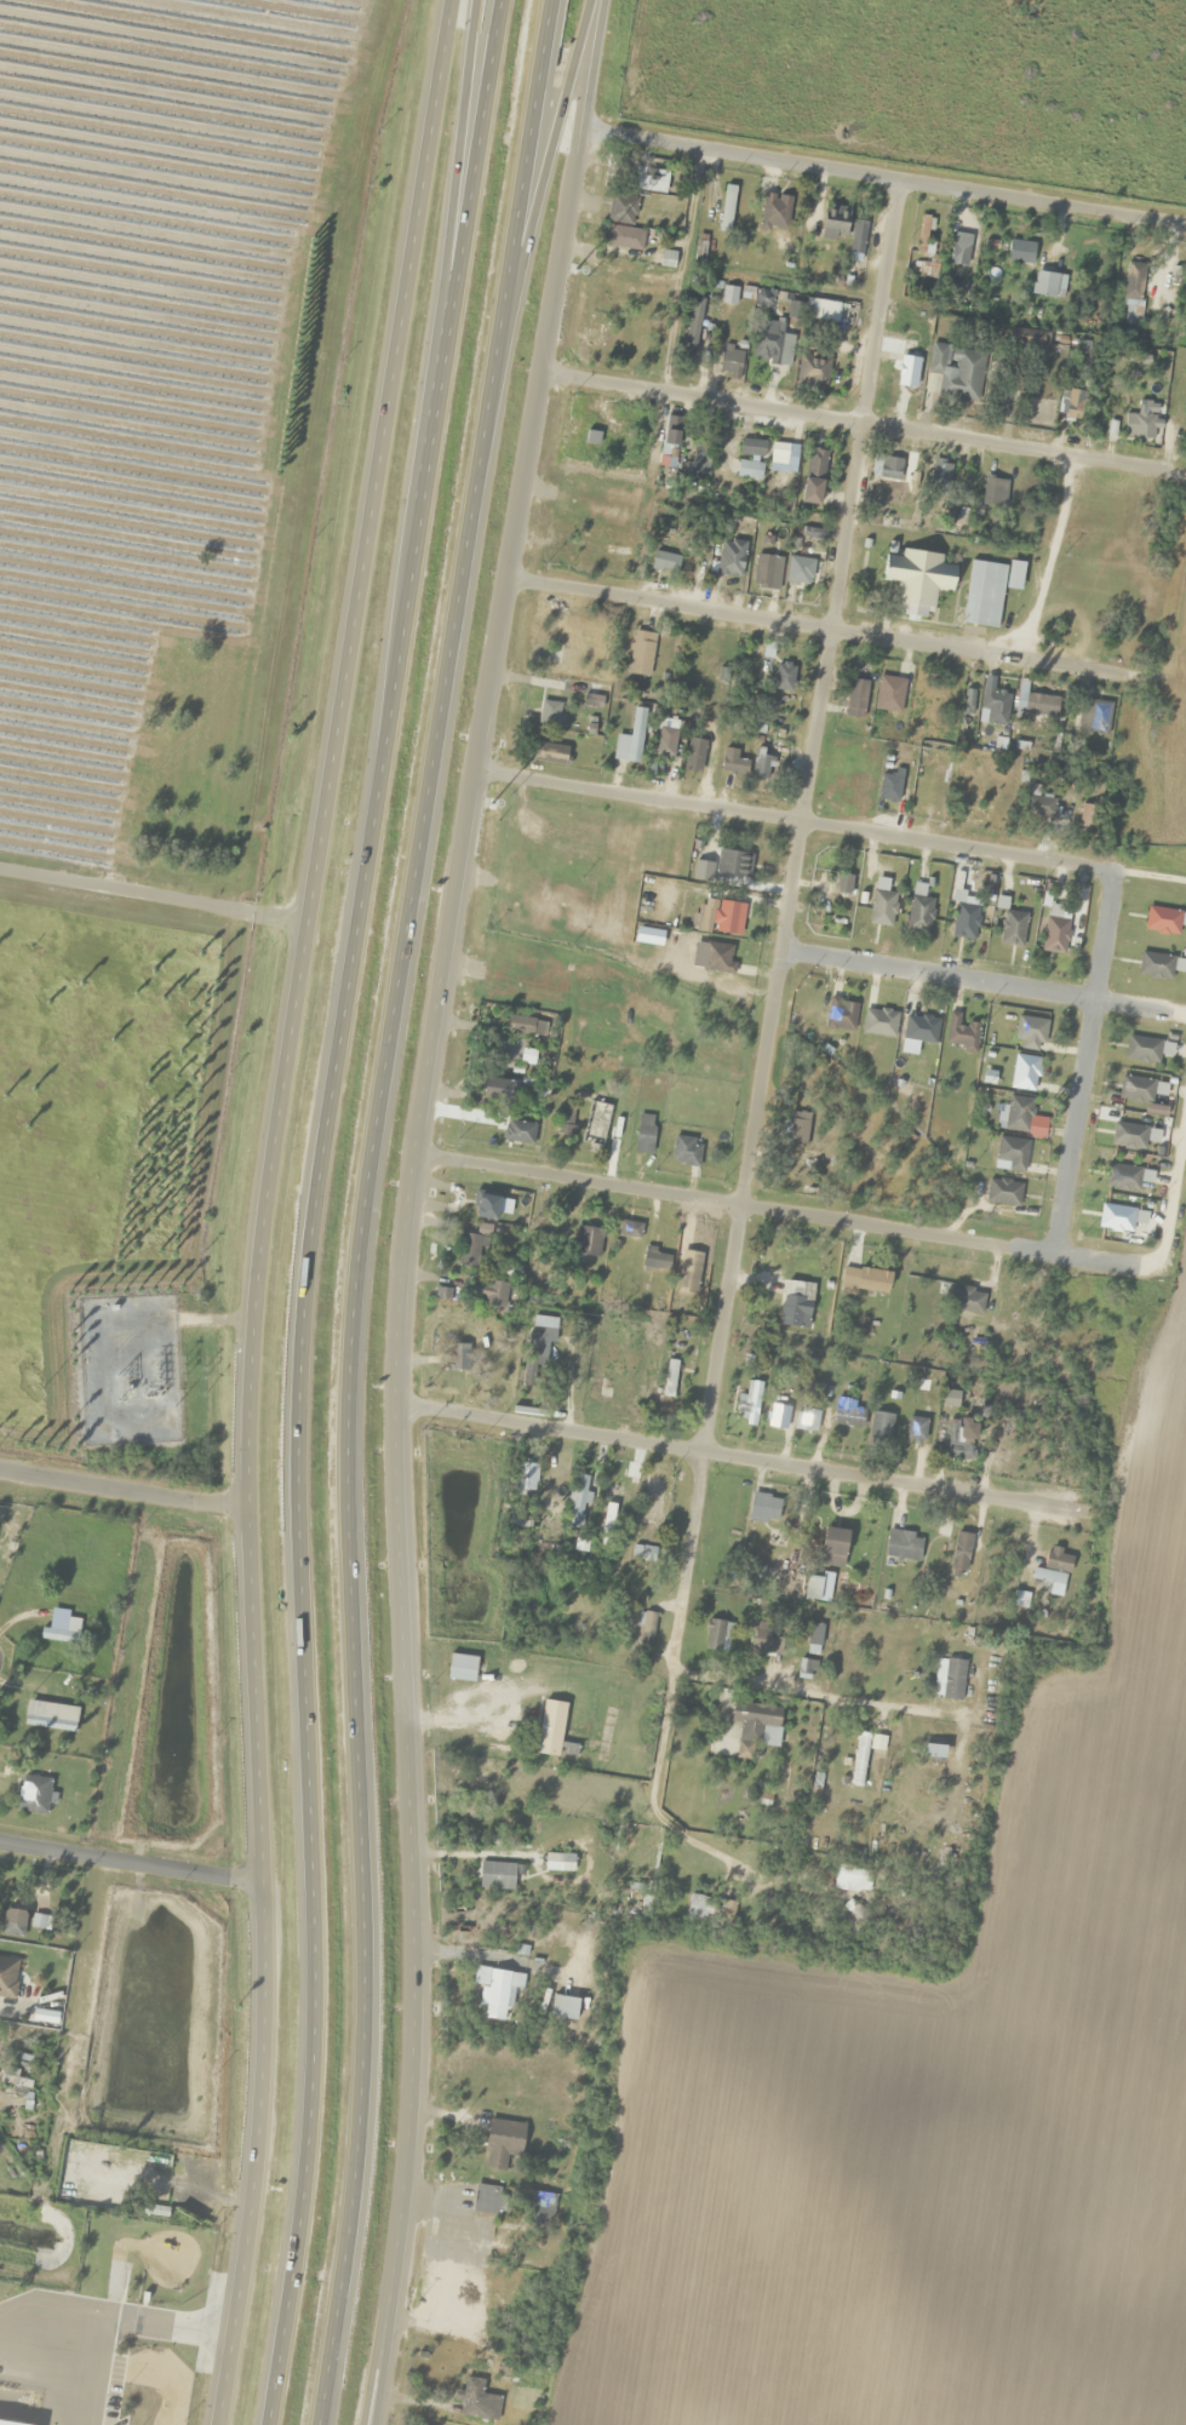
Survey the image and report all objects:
road: (598, 67)
road: (747, 157)
road: (548, 170)
building: (647, 180)
road: (1047, 203)
building: (726, 208)
building: (621, 210)
building: (774, 213)
road: (458, 219)
road: (470, 220)
building: (835, 224)
building: (924, 236)
building: (618, 237)
building: (858, 240)
building: (958, 250)
building: (1019, 252)
building: (919, 268)
building: (1134, 281)
building: (1045, 285)
building: (821, 311)
building: (1022, 339)
building: (772, 343)
building: (730, 361)
building: (813, 372)
building: (956, 372)
building: (907, 378)
building: (1075, 406)
building: (1038, 412)
road: (847, 419)
building: (1140, 424)
building: (672, 431)
building: (752, 448)
building: (779, 453)
building: (699, 463)
building: (815, 466)
building: (749, 470)
building: (886, 470)
building: (940, 475)
building: (993, 493)
building: (730, 558)
road: (1037, 558)
building: (663, 563)
building: (800, 572)
building: (766, 573)
building: (919, 581)
building: (984, 595)
road: (814, 627)
building: (640, 653)
building: (551, 655)
building: (703, 670)
building: (784, 676)
building: (888, 694)
building: (855, 700)
building: (967, 701)
building: (995, 705)
building: (1037, 705)
building: (549, 713)
building: (1093, 717)
building: (630, 740)
building: (665, 743)
building: (550, 753)
building: (694, 755)
building: (732, 762)
building: (762, 766)
road: (481, 769)
building: (889, 787)
road: (640, 798)
building: (1039, 807)
building: (1088, 815)
road: (956, 848)
building: (733, 862)
building: (843, 883)
road: (362, 899)
road: (151, 900)
railway: (594, 908)
building: (918, 910)
building: (728, 917)
building: (964, 921)
building: (1164, 921)
road: (784, 924)
building: (1012, 929)
building: (1055, 931)
building: (717, 958)
building: (1156, 965)
road: (974, 982)
building: (841, 1015)
building: (523, 1026)
building: (921, 1028)
building: (962, 1033)
building: (1030, 1033)
building: (1146, 1050)
building: (527, 1056)
road: (1081, 1065)
building: (1024, 1073)
building: (498, 1089)
building: (1135, 1090)
building: (1015, 1114)
building: (566, 1120)
building: (592, 1120)
building: (796, 1130)
building: (517, 1133)
road: (273, 1135)
building: (643, 1135)
building: (1128, 1136)
building: (686, 1151)
building: (1012, 1153)
building: (1122, 1177)
building: (1003, 1193)
road: (368, 1206)
building: (487, 1208)
road: (777, 1211)
building: (1116, 1219)
building: (629, 1229)
building: (586, 1240)
building: (469, 1251)
building: (651, 1260)
building: (865, 1280)
building: (493, 1294)
building: (967, 1301)
building: (793, 1305)
building: (463, 1348)
power substation: (127, 1371)
building: (669, 1378)
road: (411, 1409)
building: (747, 1409)
building: (847, 1414)
building: (777, 1415)
building: (807, 1420)
building: (881, 1426)
building: (915, 1431)
building: (957, 1439)
road: (755, 1457)
building: (523, 1478)
road: (119, 1489)
building: (652, 1500)
building: (578, 1502)
building: (763, 1507)
building: (520, 1521)
building: (941, 1529)
building: (903, 1547)
building: (833, 1548)
building: (959, 1555)
building: (936, 1567)
building: (1052, 1575)
building: (812, 1589)
building: (61, 1628)
building: (646, 1629)
building: (813, 1634)
building: (712, 1635)
building: (806, 1669)
building: (952, 1679)
road: (808, 1690)
road: (659, 1715)
building: (754, 1719)
building: (550, 1729)
building: (569, 1750)
building: (934, 1756)
building: (859, 1760)
building: (33, 1795)
road: (418, 1852)
road: (126, 1863)
building: (558, 1863)
building: (497, 1876)
building: (849, 1880)
road: (297, 1892)
building: (709, 1910)
building: (12, 1922)
building: (850, 1922)
building: (7, 1978)
building: (498, 1989)
building: (502, 2144)
building: (160, 2184)
building: (486, 2200)
building: (540, 2208)
road: (231, 2355)
road: (388, 2360)
building: (475, 2397)
building: (10, 2423)

